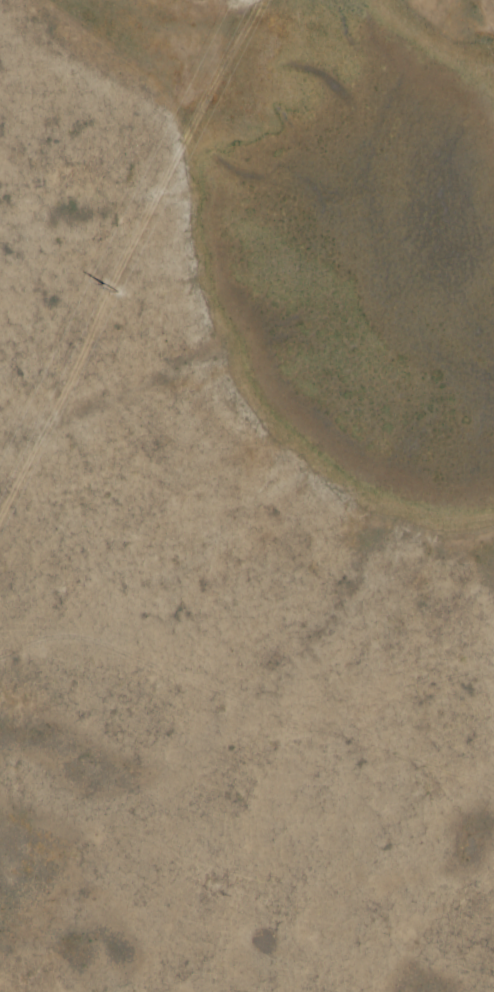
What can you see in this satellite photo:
power tower: (113, 285)

